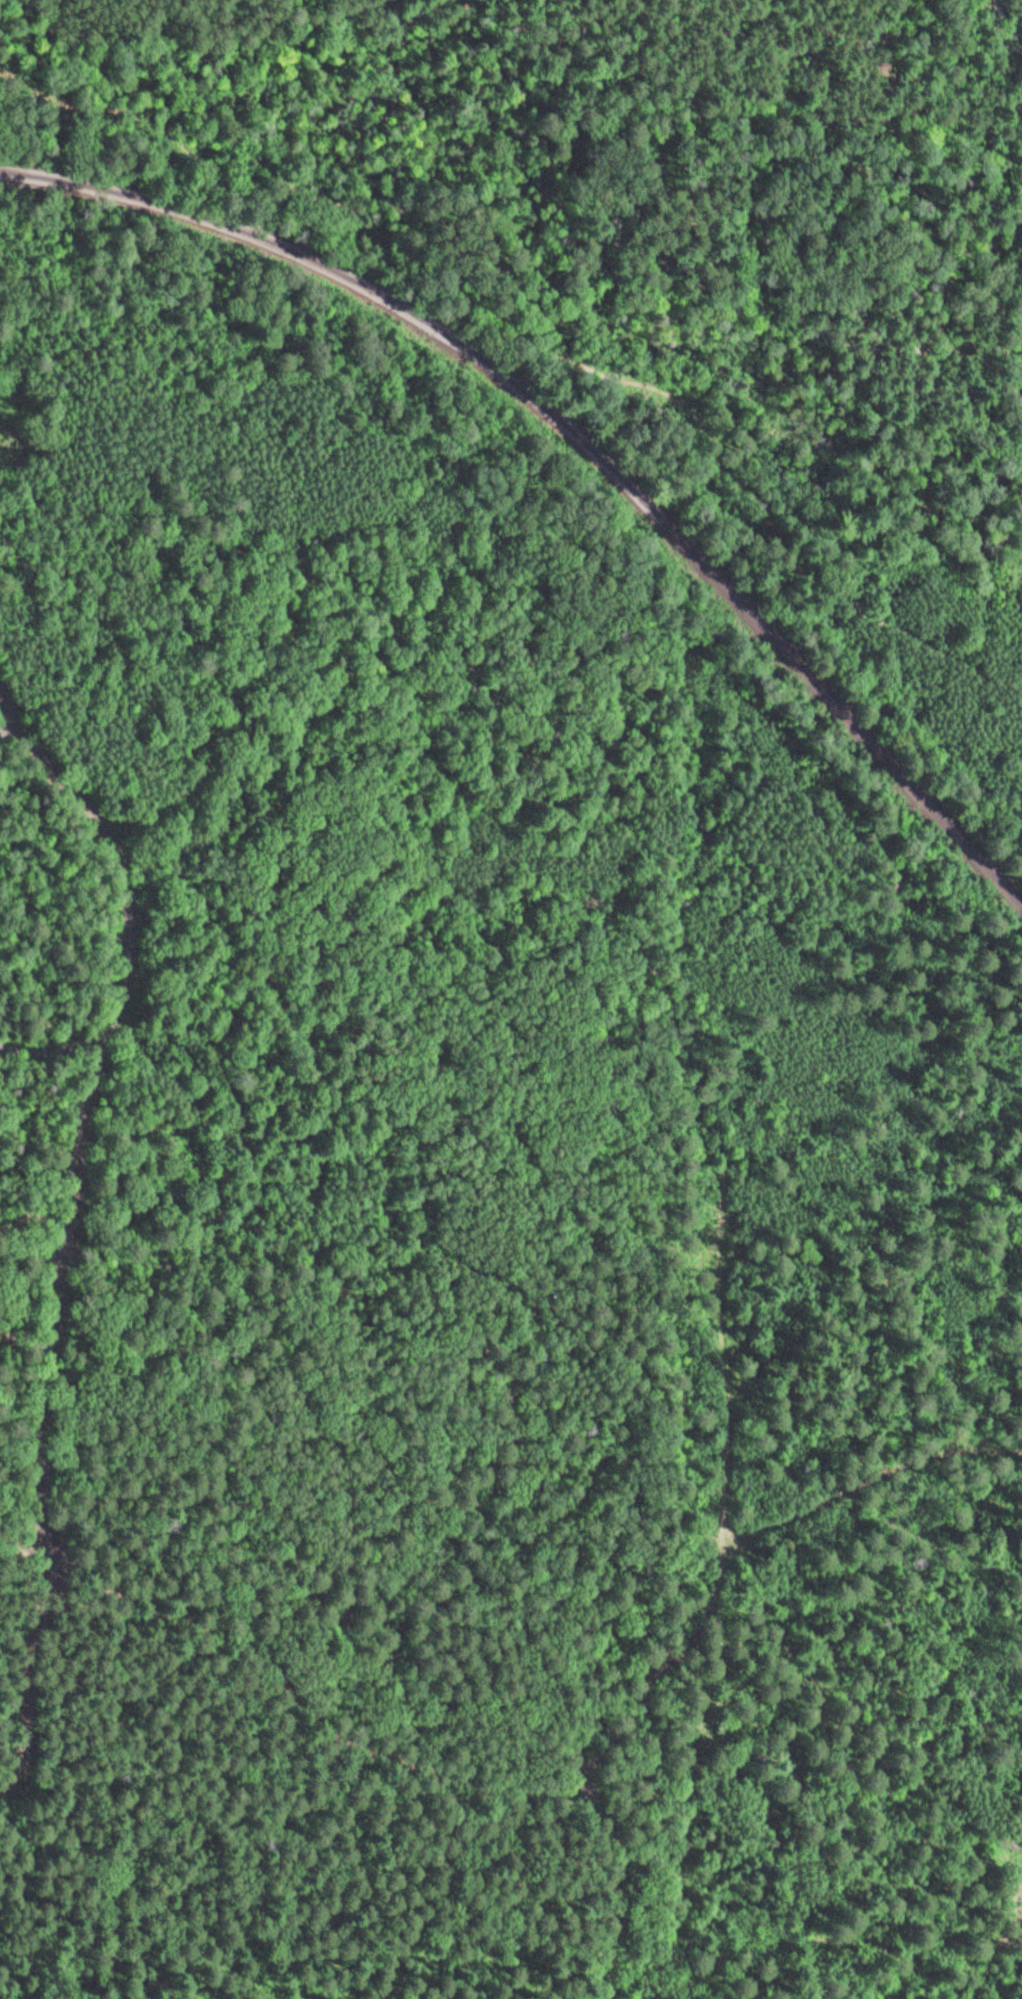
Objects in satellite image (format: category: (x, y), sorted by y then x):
road: (93, 165)
road: (747, 227)
road: (534, 327)
railway: (575, 436)
road: (303, 1101)
road: (76, 1238)
road: (719, 1329)
road: (321, 1717)
road: (598, 1880)

